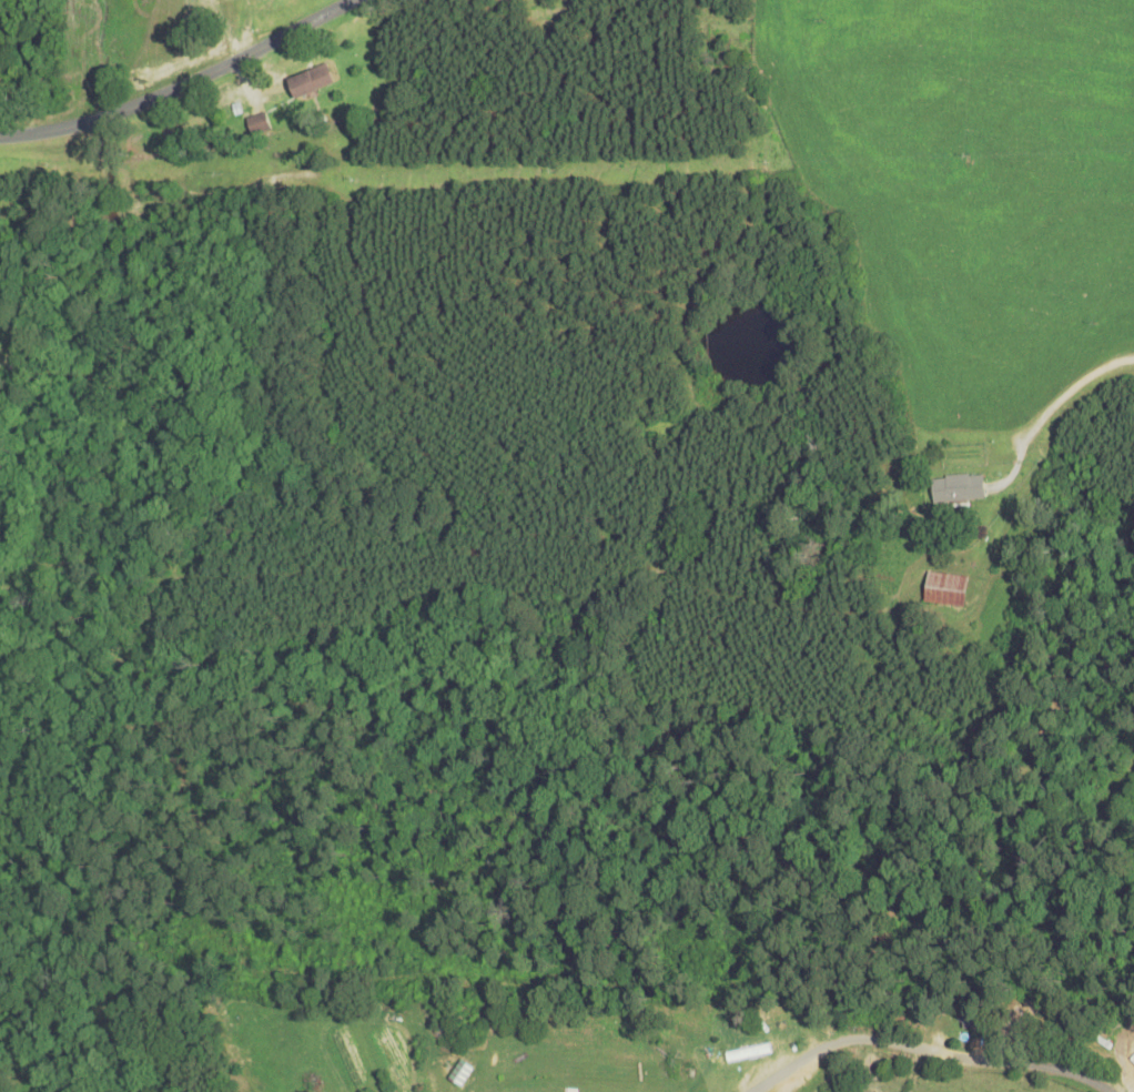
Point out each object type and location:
building: (311, 81)
road: (179, 83)
building: (259, 123)
road: (1057, 406)
building: (960, 488)
building: (946, 589)
building: (971, 1019)
road: (999, 1063)
building: (620, 1081)

